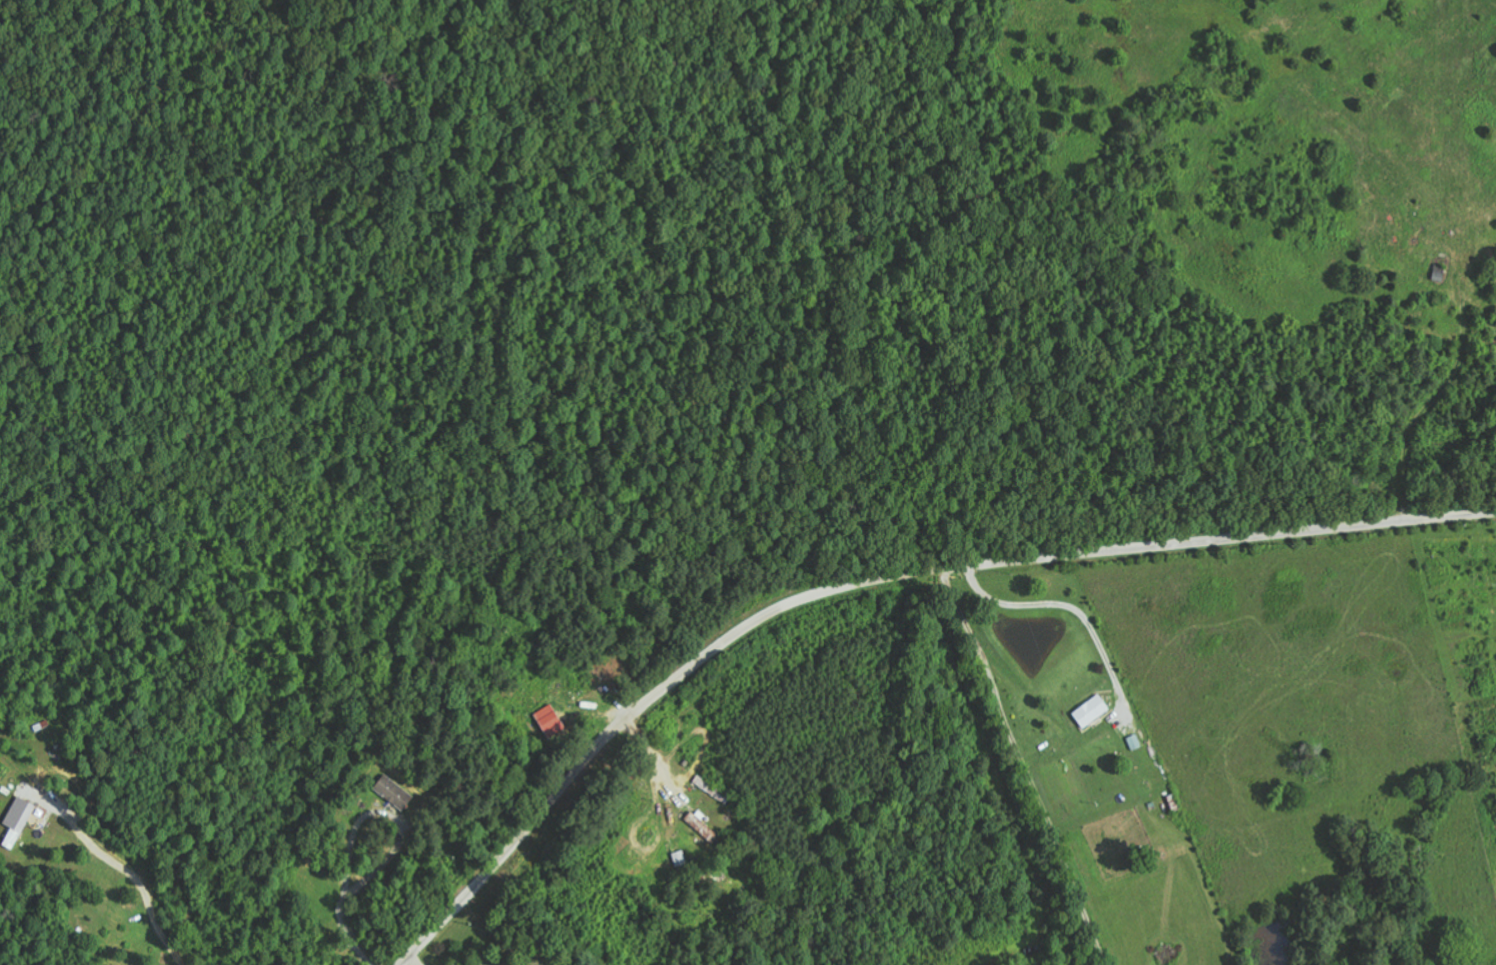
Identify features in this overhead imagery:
road: (876, 579)
building: (1092, 711)
building: (551, 721)
road: (1037, 764)
building: (394, 792)
building: (18, 820)
building: (703, 827)

